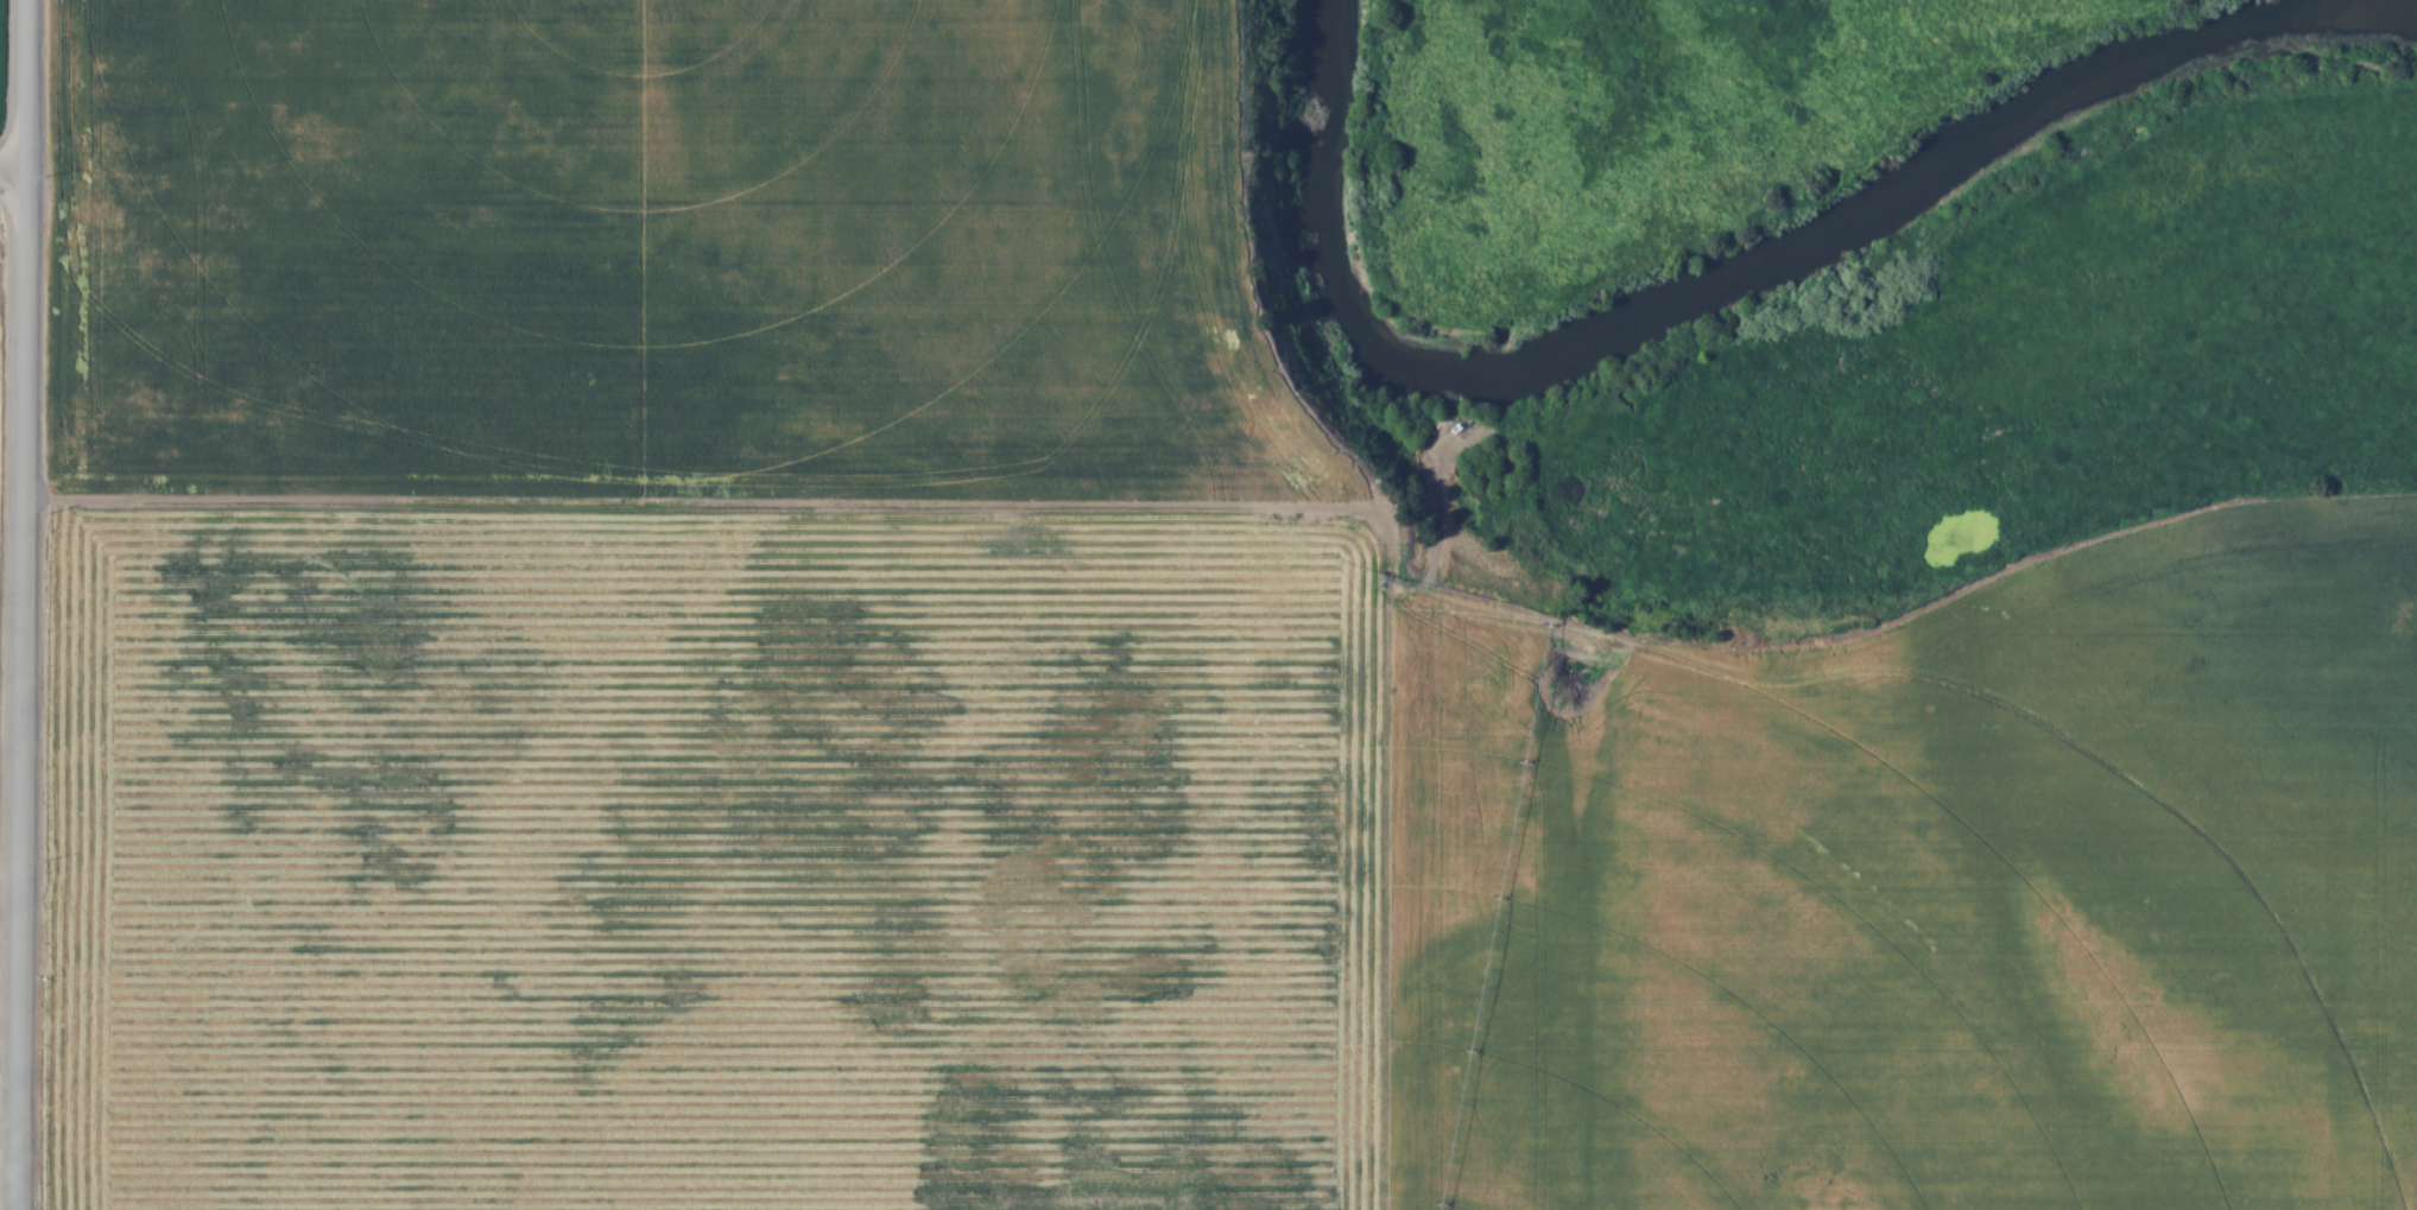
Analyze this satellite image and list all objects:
river: (1729, 281)

